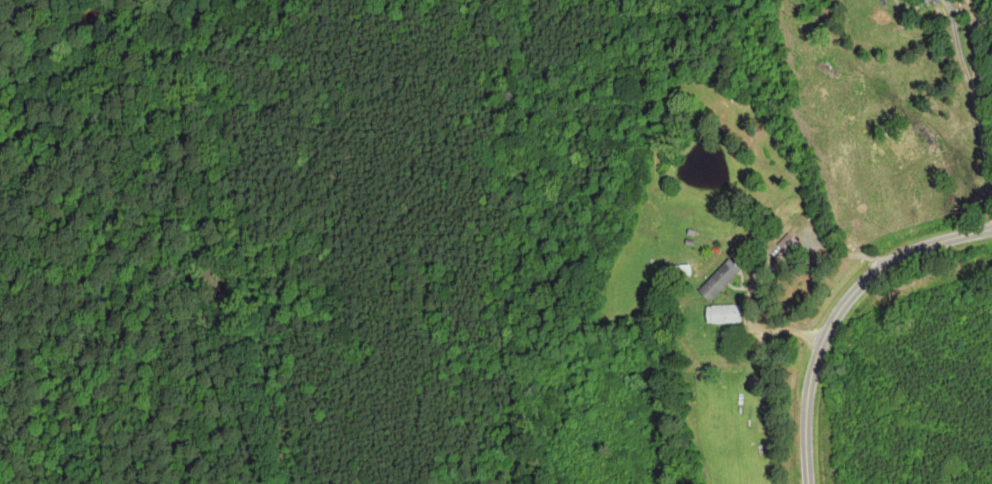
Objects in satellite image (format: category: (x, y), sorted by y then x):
building: (787, 245)
building: (717, 279)
road: (832, 307)
building: (720, 313)

